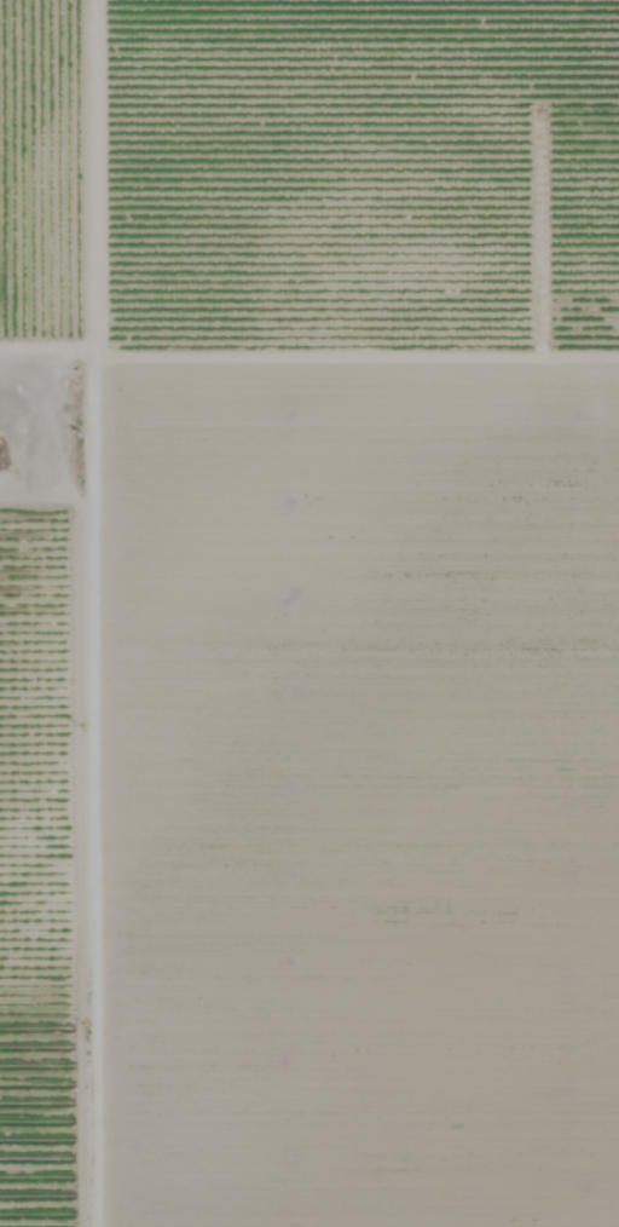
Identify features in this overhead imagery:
road: (81, 870)

